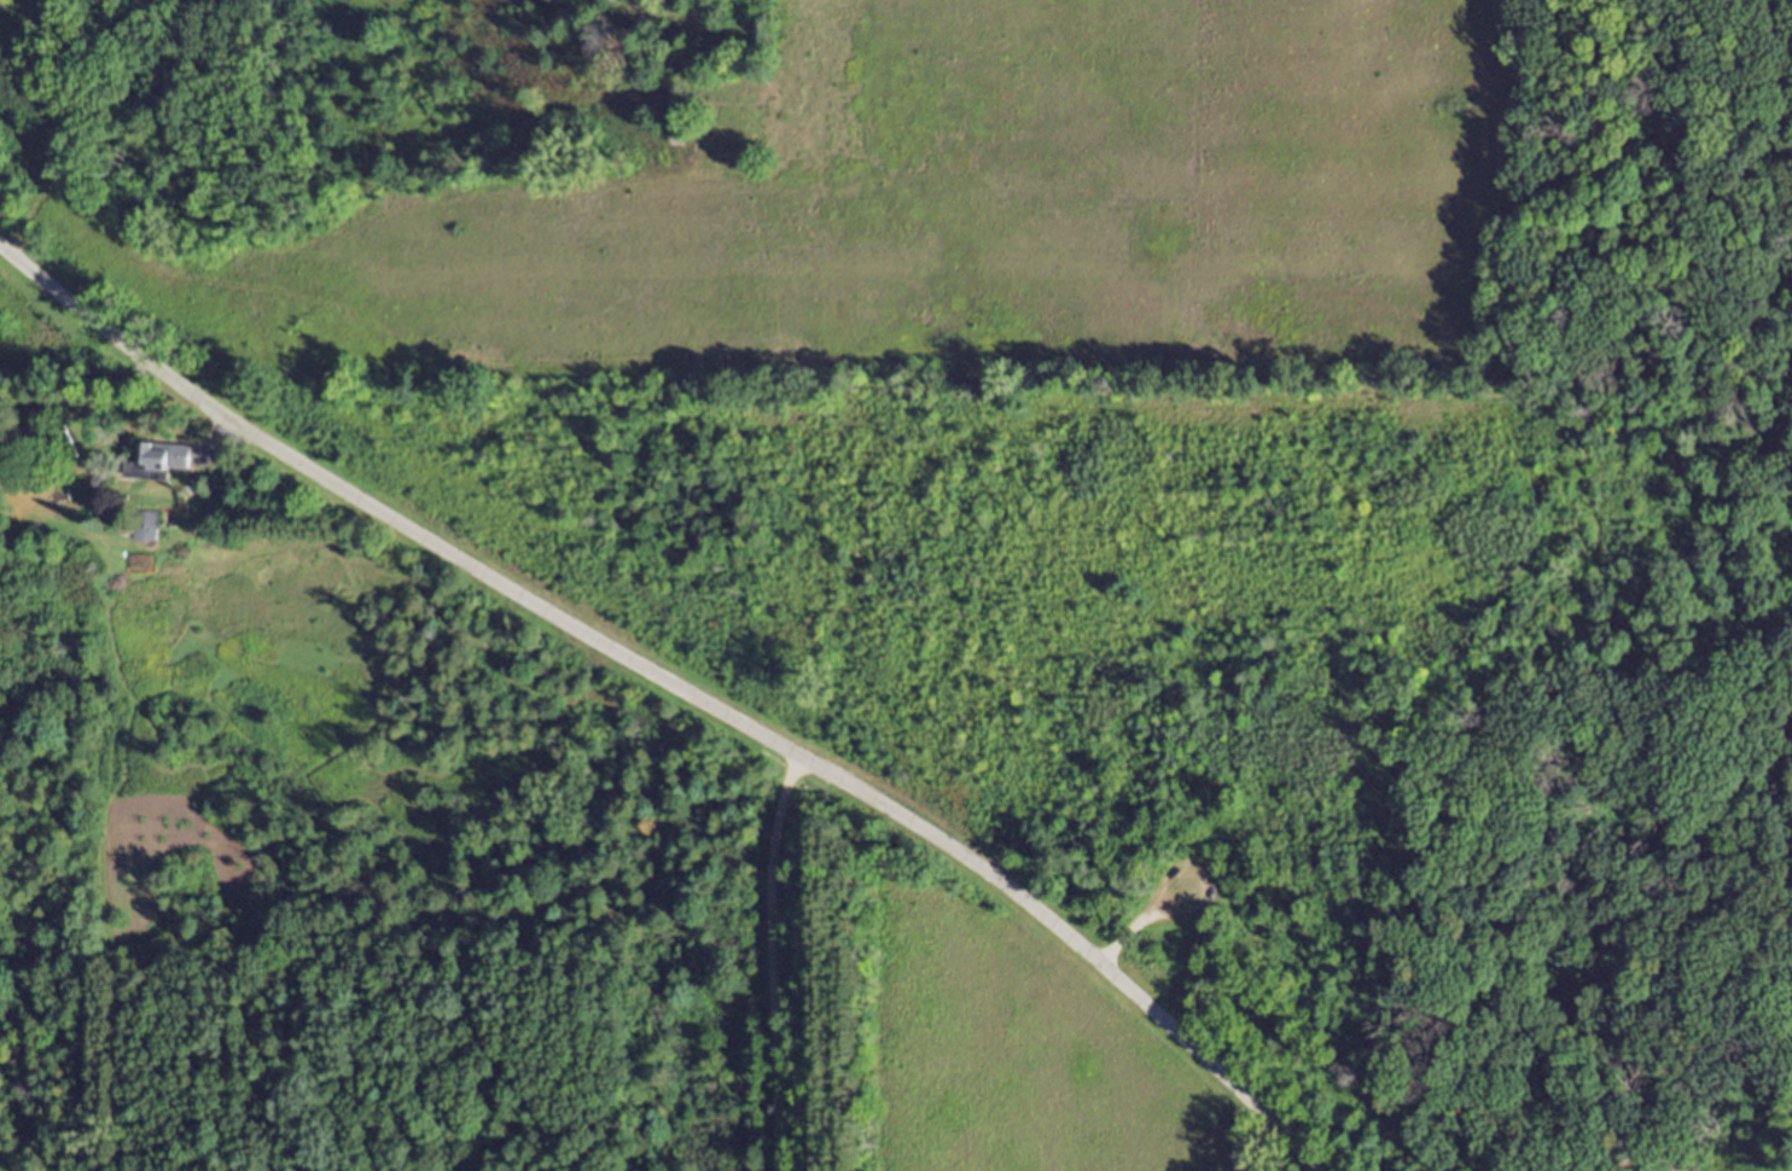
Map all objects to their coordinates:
building: (745, 130)
crop: (946, 204)
building: (167, 462)
road: (1593, 538)
road: (545, 608)
parking lot: (1170, 903)
road: (1156, 911)
road: (773, 961)
road: (1334, 1033)
crop: (1013, 1055)
road: (1212, 1065)

